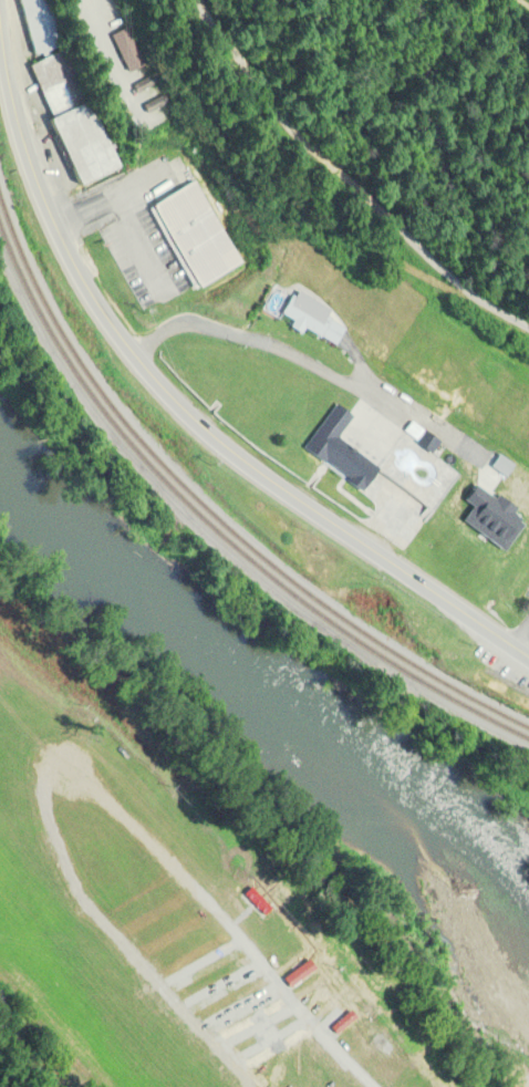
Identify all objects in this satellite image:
building: (39, 25)
building: (128, 50)
building: (72, 118)
road: (123, 214)
building: (197, 236)
building: (313, 322)
road: (255, 342)
road: (190, 417)
building: (342, 451)
building: (508, 478)
railway: (210, 511)
railway: (218, 531)
river: (282, 685)
road: (30, 1065)

